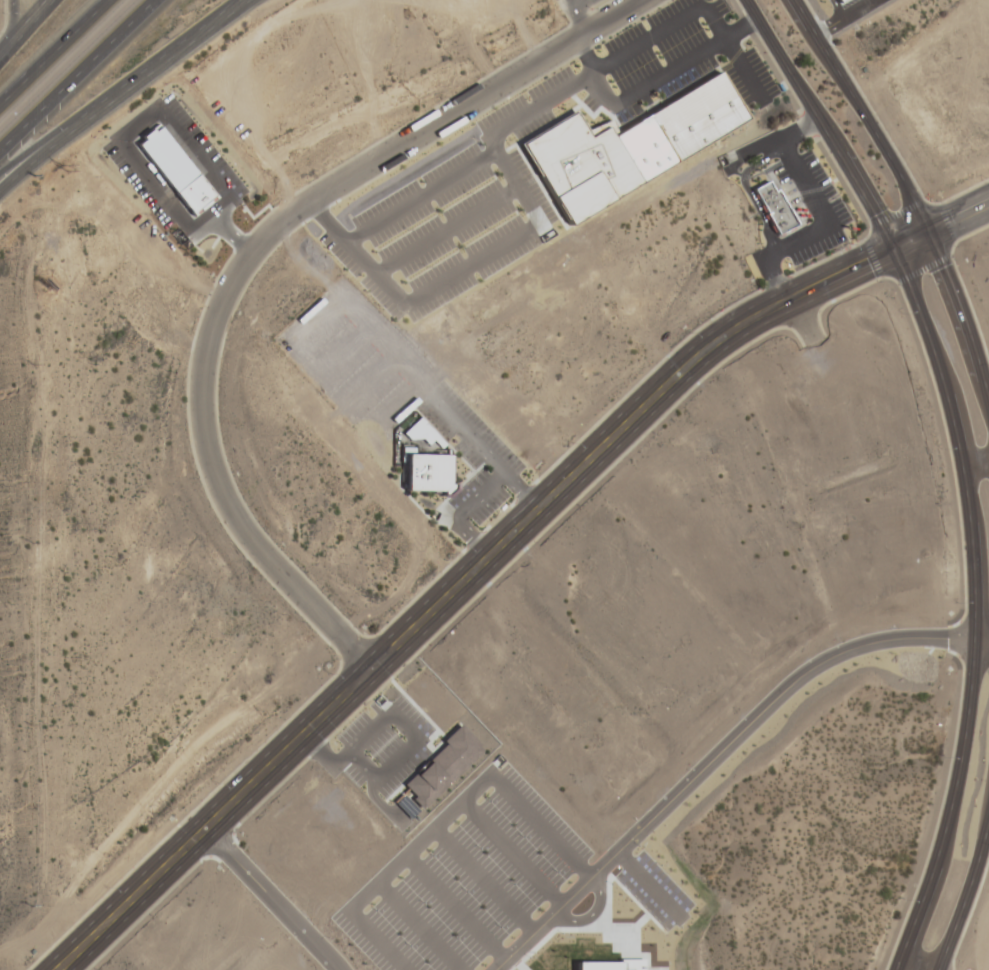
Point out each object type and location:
road: (576, 12)
road: (11, 20)
road: (23, 25)
road: (740, 30)
road: (50, 48)
road: (581, 56)
road: (75, 72)
road: (648, 85)
road: (116, 89)
road: (153, 109)
road: (484, 137)
road: (38, 145)
road: (770, 145)
building: (629, 148)
power tower: (58, 166)
building: (175, 171)
parking lot: (463, 186)
road: (744, 188)
road: (907, 190)
road: (417, 195)
parking lot: (810, 205)
building: (773, 208)
road: (314, 210)
road: (824, 214)
road: (960, 216)
road: (442, 228)
road: (243, 257)
road: (771, 274)
parking lot: (390, 388)
road: (431, 398)
road: (962, 465)
building: (426, 473)
road: (481, 490)
road: (467, 533)
road: (470, 569)
road: (393, 718)
road: (723, 763)
building: (431, 777)
road: (528, 815)
road: (500, 843)
road: (470, 872)
parking lot: (466, 879)
road: (376, 886)
road: (654, 890)
road: (555, 893)
road: (968, 897)
road: (268, 898)
road: (459, 913)
road: (527, 923)
building: (605, 966)
road: (453, 968)
road: (456, 968)

